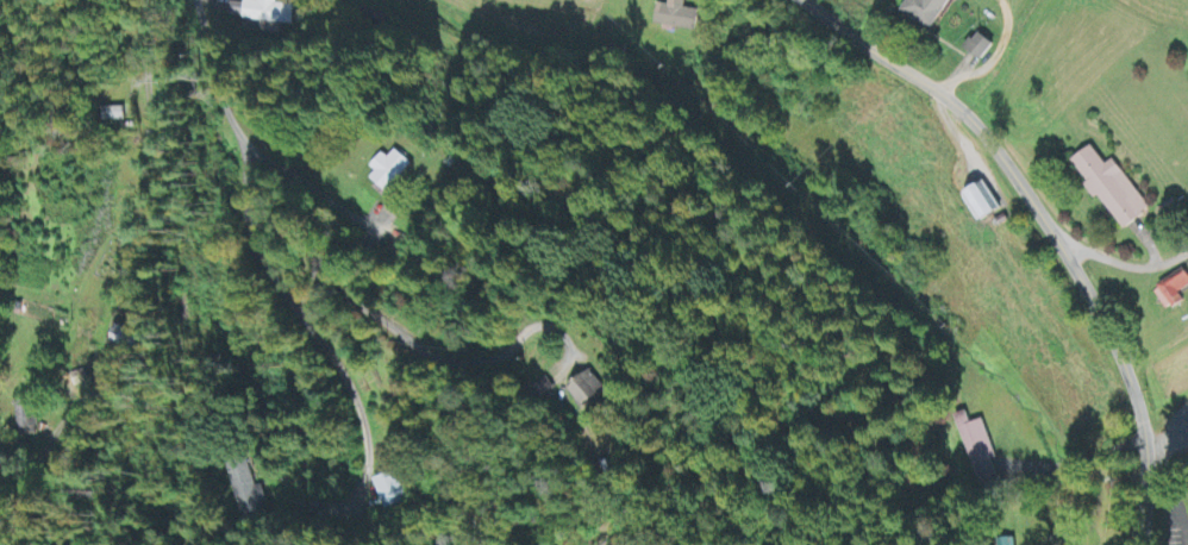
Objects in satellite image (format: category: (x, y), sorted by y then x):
building: (926, 12)
building: (262, 13)
building: (676, 17)
building: (982, 48)
building: (110, 115)
building: (390, 171)
building: (1111, 189)
building: (983, 205)
road: (352, 217)
road: (1050, 226)
road: (1127, 264)
building: (1174, 293)
building: (124, 339)
road: (319, 340)
building: (593, 393)
building: (25, 415)
building: (975, 441)
road: (1077, 458)
building: (249, 490)
building: (388, 491)

